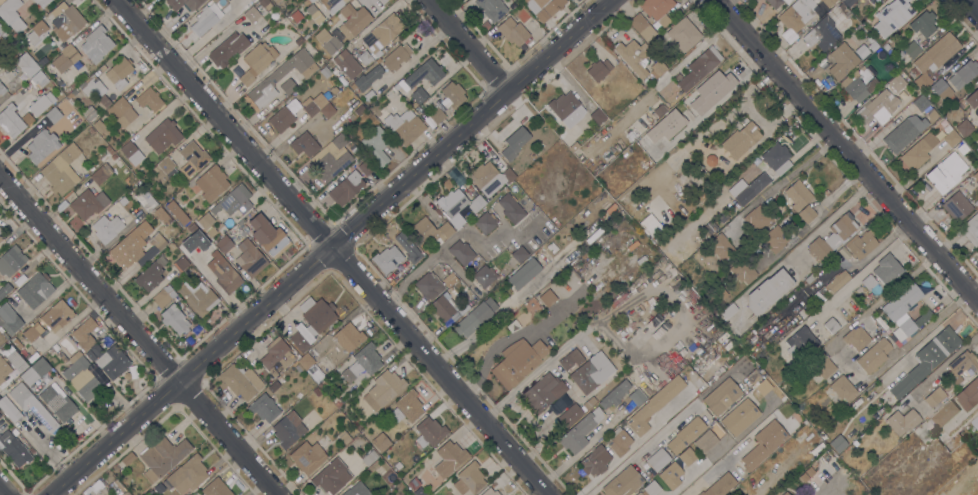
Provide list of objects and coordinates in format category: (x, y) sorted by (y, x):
building: (877, 0)
building: (880, 0)
building: (277, 1)
building: (42, 2)
building: (828, 2)
building: (847, 2)
building: (265, 3)
building: (777, 3)
building: (332, 4)
building: (511, 5)
building: (193, 6)
building: (544, 7)
road: (971, 7)
building: (491, 8)
road: (976, 8)
building: (9, 10)
building: (657, 10)
building: (845, 12)
building: (797, 13)
building: (252, 14)
building: (315, 14)
building: (296, 16)
building: (892, 16)
building: (868, 19)
building: (353, 20)
building: (66, 21)
building: (203, 22)
building: (923, 24)
building: (641, 26)
building: (512, 31)
building: (37, 32)
building: (683, 34)
building: (821, 34)
building: (379, 37)
building: (869, 38)
building: (98, 41)
building: (328, 41)
road: (464, 43)
building: (873, 46)
building: (886, 46)
building: (227, 49)
building: (912, 49)
building: (634, 56)
building: (396, 57)
building: (65, 58)
building: (933, 59)
building: (256, 61)
building: (842, 61)
building: (891, 61)
building: (26, 65)
building: (346, 65)
building: (699, 67)
building: (598, 69)
building: (657, 69)
building: (119, 72)
building: (425, 73)
building: (373, 74)
building: (963, 74)
building: (39, 79)
building: (268, 81)
building: (897, 82)
building: (859, 84)
building: (290, 85)
building: (92, 86)
building: (939, 86)
building: (2, 89)
building: (334, 90)
building: (705, 93)
building: (369, 95)
building: (452, 95)
building: (417, 97)
building: (149, 99)
building: (953, 99)
building: (972, 99)
building: (103, 102)
building: (41, 103)
building: (921, 103)
building: (374, 107)
building: (566, 107)
building: (311, 108)
building: (877, 108)
building: (327, 110)
building: (659, 110)
building: (122, 112)
building: (932, 114)
building: (53, 115)
building: (436, 115)
building: (597, 116)
building: (692, 116)
building: (663, 118)
building: (281, 119)
building: (10, 121)
building: (99, 126)
building: (404, 126)
building: (964, 127)
building: (652, 131)
building: (904, 133)
building: (163, 134)
building: (949, 134)
building: (741, 140)
building: (339, 142)
building: (514, 143)
building: (304, 144)
building: (42, 145)
building: (376, 145)
building: (573, 146)
road: (847, 149)
building: (977, 149)
building: (919, 151)
building: (131, 153)
building: (192, 158)
building: (776, 158)
building: (710, 160)
building: (331, 165)
building: (364, 166)
building: (167, 167)
building: (61, 170)
building: (946, 173)
building: (101, 174)
building: (975, 175)
building: (488, 178)
building: (965, 182)
building: (211, 183)
road: (779, 183)
building: (754, 186)
building: (345, 188)
building: (798, 195)
building: (597, 199)
building: (234, 201)
building: (88, 203)
building: (148, 203)
building: (476, 203)
building: (452, 205)
building: (957, 206)
building: (510, 208)
building: (177, 212)
building: (807, 214)
building: (162, 216)
building: (758, 217)
building: (722, 218)
building: (205, 220)
building: (485, 223)
building: (106, 228)
building: (192, 228)
building: (652, 228)
building: (0, 229)
building: (970, 229)
building: (432, 230)
building: (210, 232)
building: (1, 236)
building: (268, 236)
building: (200, 237)
building: (832, 237)
building: (0, 239)
road: (454, 239)
building: (775, 239)
road: (805, 241)
building: (224, 244)
building: (861, 244)
building: (139, 246)
building: (171, 246)
building: (720, 246)
road: (333, 247)
road: (329, 249)
building: (461, 252)
building: (519, 254)
building: (414, 256)
building: (250, 258)
building: (387, 259)
building: (12, 260)
building: (180, 263)
building: (887, 269)
building: (742, 270)
road: (862, 272)
building: (524, 273)
building: (818, 273)
building: (150, 274)
building: (223, 274)
building: (484, 276)
building: (810, 278)
building: (561, 279)
building: (836, 282)
building: (868, 282)
building: (426, 285)
building: (4, 290)
building: (35, 290)
building: (768, 291)
building: (721, 292)
building: (164, 296)
building: (197, 297)
building: (546, 299)
building: (618, 299)
building: (442, 306)
building: (729, 310)
building: (903, 313)
building: (57, 315)
building: (9, 319)
building: (174, 319)
building: (312, 321)
building: (467, 323)
building: (831, 325)
building: (84, 333)
building: (30, 334)
road: (140, 334)
building: (348, 336)
building: (856, 338)
building: (548, 339)
building: (801, 341)
building: (90, 355)
building: (873, 355)
building: (276, 356)
building: (62, 357)
building: (570, 359)
building: (110, 360)
building: (926, 360)
building: (16, 361)
building: (365, 361)
building: (518, 361)
building: (304, 363)
road: (843, 365)
building: (962, 366)
building: (819, 367)
building: (3, 370)
building: (35, 371)
building: (592, 372)
building: (756, 375)
building: (81, 377)
building: (241, 381)
building: (323, 384)
building: (763, 387)
building: (383, 389)
building: (840, 390)
building: (317, 391)
building: (543, 392)
building: (968, 394)
building: (615, 395)
building: (637, 396)
building: (722, 396)
building: (936, 398)
building: (58, 402)
building: (338, 402)
building: (589, 402)
building: (30, 403)
building: (654, 404)
building: (407, 407)
building: (264, 408)
building: (9, 409)
building: (948, 410)
building: (0, 414)
building: (570, 415)
building: (826, 415)
building: (740, 417)
building: (937, 419)
building: (902, 421)
building: (975, 421)
building: (827, 426)
building: (288, 429)
building: (580, 430)
building: (429, 432)
building: (685, 435)
building: (343, 436)
building: (619, 441)
building: (705, 441)
building: (380, 442)
building: (837, 443)
building: (764, 444)
road: (631, 448)
building: (14, 449)
road: (639, 450)
building: (162, 457)
building: (307, 457)
building: (686, 457)
building: (127, 458)
building: (369, 458)
building: (449, 458)
building: (658, 460)
building: (595, 461)
road: (716, 465)
building: (186, 475)
building: (670, 475)
building: (331, 477)
building: (469, 479)
building: (623, 482)
building: (720, 485)
building: (119, 487)
building: (416, 487)
building: (159, 488)
building: (215, 488)
building: (652, 488)
building: (357, 490)
building: (489, 492)
building: (639, 493)
building: (785, 493)
road: (0, 494)

